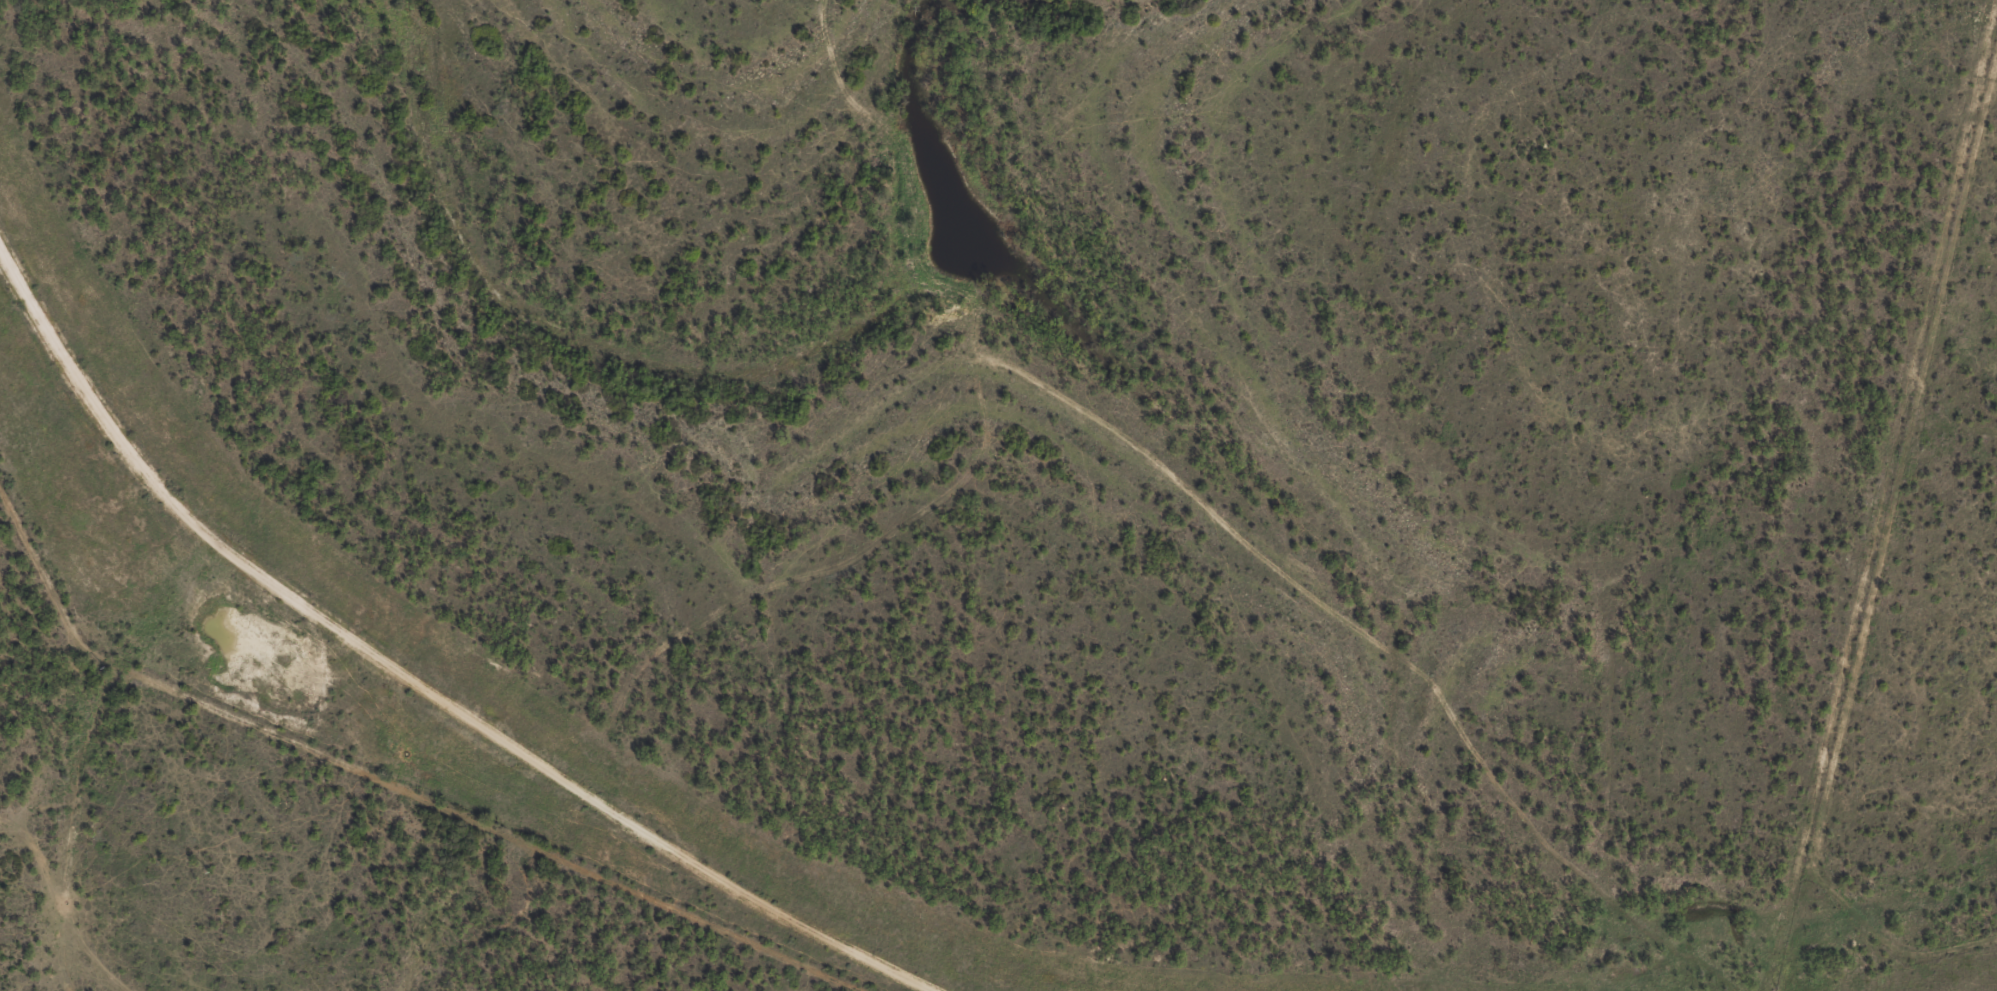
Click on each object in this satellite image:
road: (437, 709)

